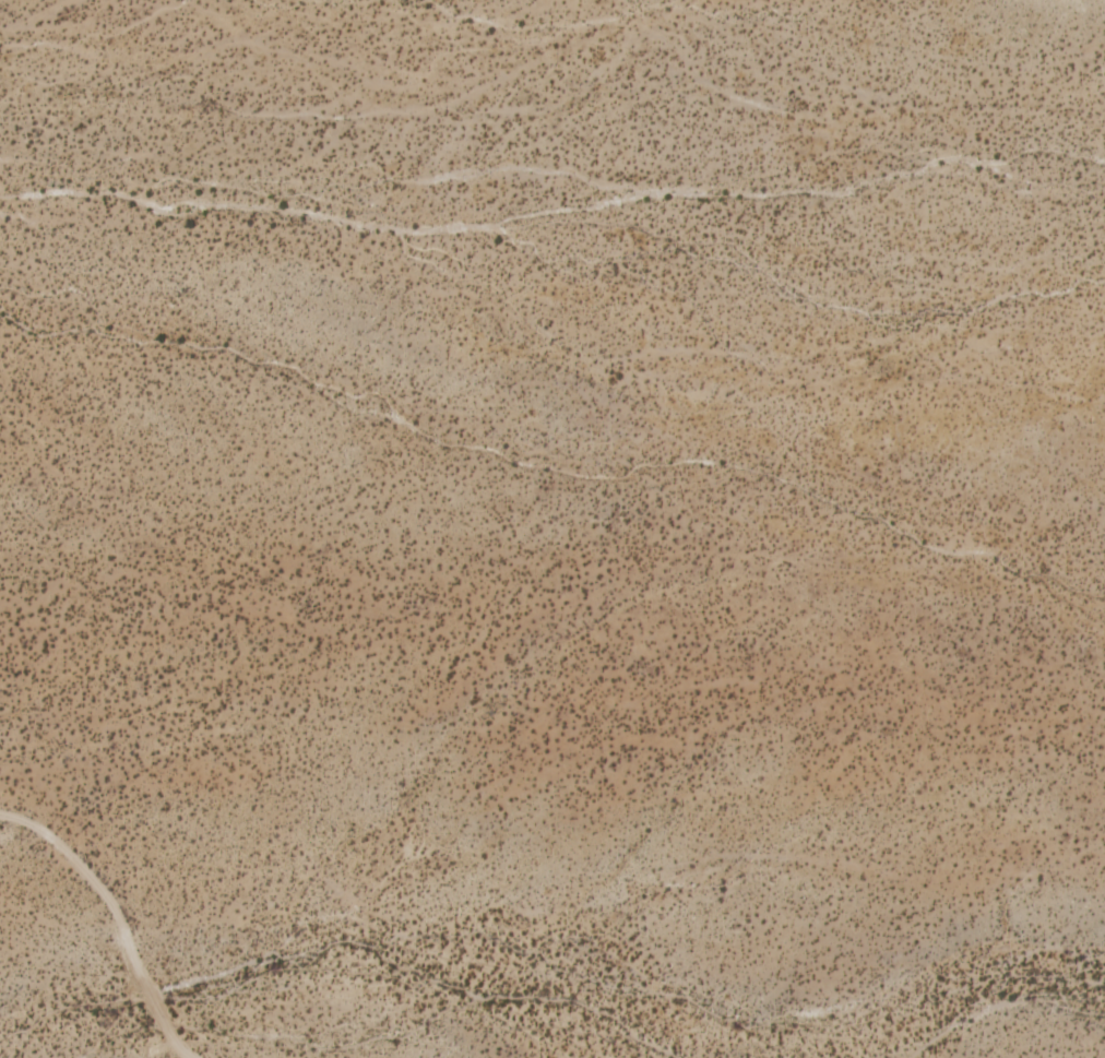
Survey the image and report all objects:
road: (116, 919)

